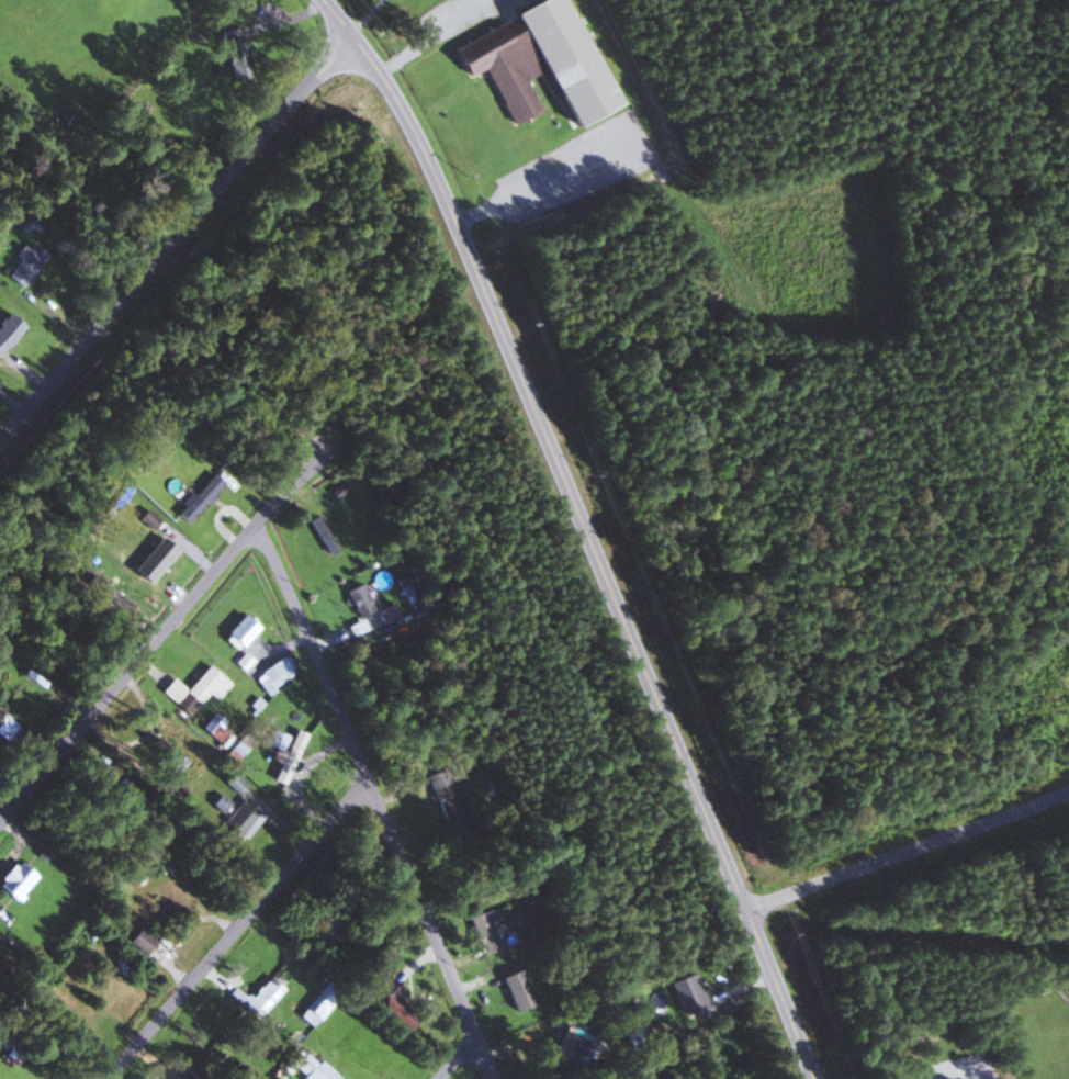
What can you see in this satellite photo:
road: (443, 36)
building: (234, 54)
building: (562, 58)
building: (500, 67)
building: (32, 224)
road: (176, 241)
building: (25, 261)
building: (9, 330)
building: (199, 498)
building: (148, 519)
road: (584, 529)
building: (322, 535)
building: (159, 546)
building: (142, 571)
building: (103, 589)
building: (358, 599)
building: (237, 632)
road: (157, 637)
building: (274, 673)
building: (195, 689)
building: (5, 727)
building: (215, 729)
building: (237, 748)
building: (283, 752)
building: (166, 757)
building: (169, 789)
building: (443, 793)
road: (368, 799)
building: (236, 823)
building: (14, 880)
road: (230, 929)
building: (333, 931)
building: (485, 931)
building: (140, 941)
building: (516, 990)
building: (689, 994)
building: (257, 997)
building: (394, 1003)
building: (317, 1004)
building: (635, 1038)
building: (576, 1046)
road: (457, 1060)
building: (190, 1067)
building: (306, 1067)

